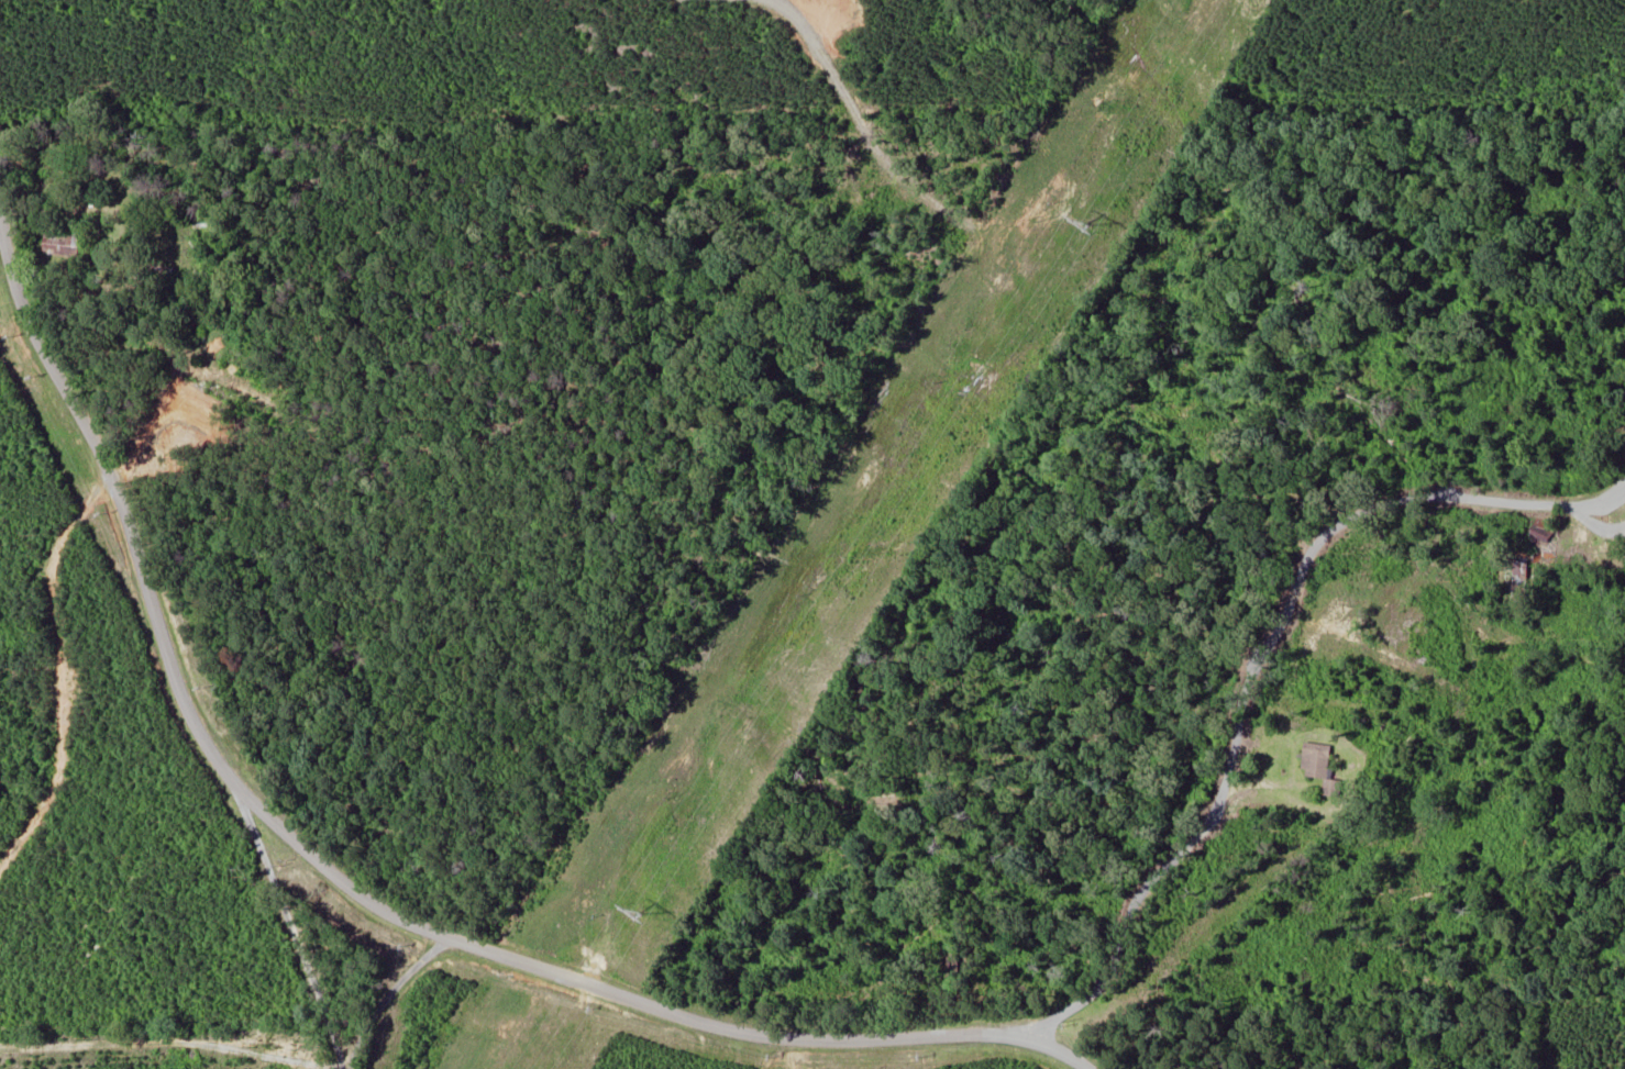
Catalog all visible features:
power tower: (1087, 224)
building: (65, 245)
road: (1258, 676)
road: (331, 892)
power tower: (642, 913)
road: (327, 973)
road: (387, 987)
building: (185, 1059)

